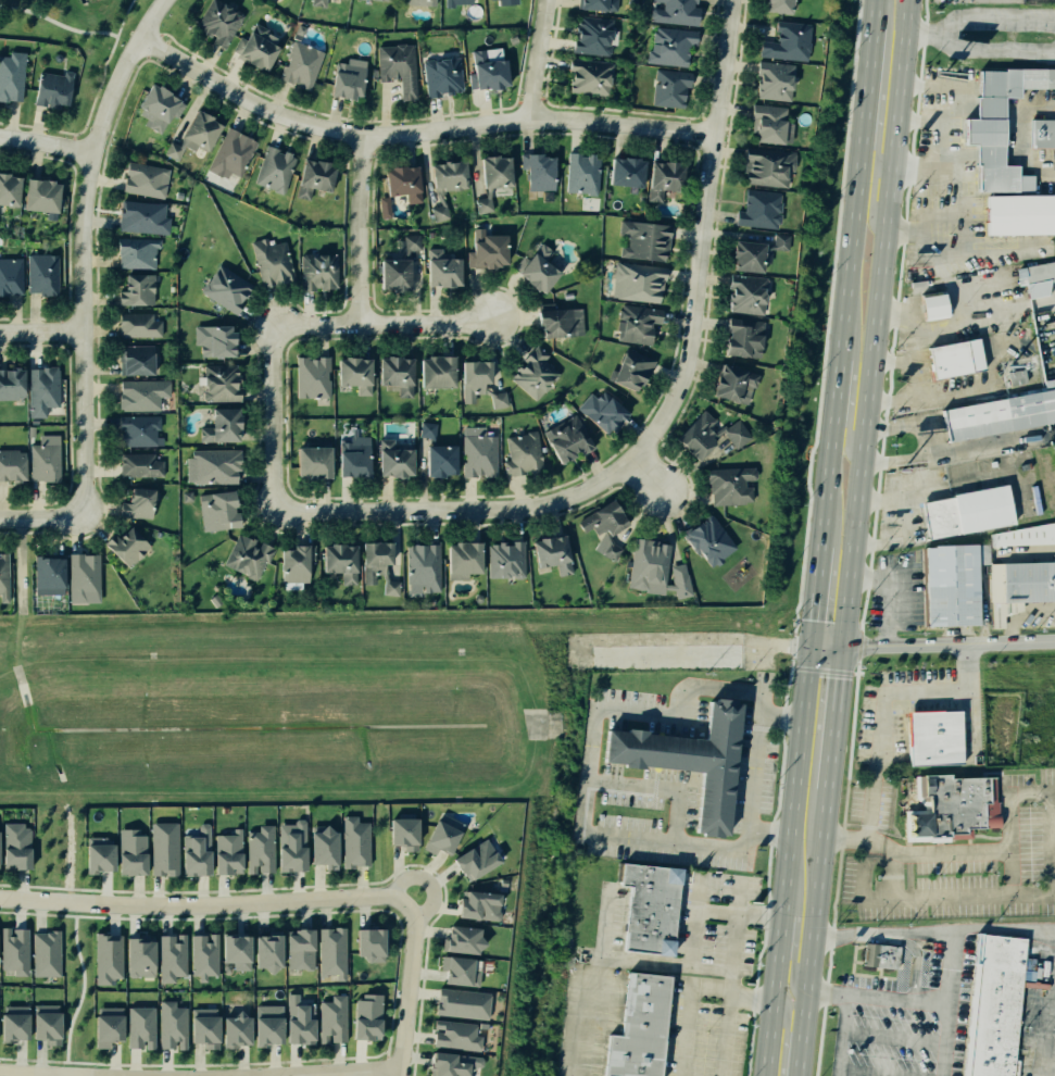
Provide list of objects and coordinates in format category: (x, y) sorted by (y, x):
building: (386, 0)
building: (418, 0)
building: (318, 1)
building: (452, 2)
building: (510, 2)
building: (586, 3)
building: (774, 7)
building: (671, 12)
road: (979, 20)
building: (213, 22)
road: (55, 23)
building: (589, 34)
building: (783, 39)
park: (77, 40)
building: (670, 45)
building: (254, 47)
road: (994, 53)
road: (529, 59)
building: (394, 65)
building: (298, 66)
building: (483, 72)
road: (100, 74)
building: (582, 74)
building: (440, 75)
building: (10, 76)
building: (343, 77)
building: (774, 82)
road: (916, 83)
building: (50, 86)
building: (668, 88)
building: (156, 105)
road: (918, 121)
building: (994, 122)
building: (766, 123)
road: (414, 127)
building: (1040, 132)
building: (192, 133)
road: (940, 133)
road: (45, 143)
building: (230, 155)
building: (763, 164)
road: (884, 164)
building: (624, 167)
building: (536, 170)
building: (581, 171)
road: (876, 171)
building: (272, 172)
building: (313, 176)
building: (485, 178)
building: (142, 180)
building: (662, 180)
building: (441, 183)
building: (398, 185)
road: (705, 187)
building: (7, 190)
building: (37, 195)
building: (762, 203)
building: (440, 213)
building: (1016, 215)
building: (139, 217)
road: (359, 228)
building: (644, 241)
building: (411, 242)
building: (483, 245)
building: (743, 247)
road: (78, 249)
building: (133, 251)
building: (268, 260)
building: (317, 268)
building: (437, 268)
building: (39, 272)
building: (533, 273)
building: (392, 274)
building: (9, 276)
building: (1038, 279)
building: (636, 281)
building: (219, 285)
building: (131, 289)
building: (746, 296)
building: (929, 308)
road: (842, 322)
road: (382, 323)
building: (637, 323)
road: (876, 323)
building: (135, 324)
building: (558, 325)
road: (39, 331)
building: (211, 339)
building: (739, 339)
building: (1043, 345)
building: (134, 358)
building: (951, 360)
building: (630, 365)
building: (434, 371)
building: (350, 373)
building: (392, 374)
building: (537, 374)
building: (312, 378)
building: (472, 378)
building: (9, 383)
building: (216, 383)
building: (734, 384)
building: (41, 388)
building: (139, 393)
building: (495, 399)
building: (603, 412)
road: (277, 416)
building: (997, 416)
building: (219, 423)
road: (849, 426)
building: (135, 429)
building: (701, 434)
building: (563, 438)
road: (924, 443)
road: (983, 445)
building: (476, 451)
building: (435, 452)
building: (520, 452)
building: (350, 456)
building: (392, 456)
building: (42, 458)
building: (309, 461)
building: (11, 462)
building: (138, 464)
building: (205, 465)
road: (643, 478)
building: (726, 485)
building: (135, 503)
road: (511, 509)
building: (217, 510)
building: (964, 512)
road: (40, 518)
building: (606, 521)
road: (906, 523)
building: (1022, 536)
building: (707, 537)
building: (125, 546)
building: (547, 553)
building: (460, 556)
building: (244, 558)
building: (372, 558)
building: (502, 560)
building: (340, 561)
building: (290, 563)
building: (649, 564)
building: (419, 570)
building: (45, 575)
building: (3, 576)
building: (80, 576)
building: (1025, 580)
building: (680, 584)
building: (944, 584)
building: (389, 588)
road: (895, 588)
road: (1019, 614)
road: (931, 643)
traffic signals: (809, 646)
traffic signals: (842, 647)
building: (665, 655)
road: (881, 723)
building: (930, 736)
building: (690, 760)
road: (662, 787)
building: (947, 805)
road: (580, 809)
building: (404, 831)
building: (441, 836)
road: (767, 836)
building: (354, 841)
building: (20, 846)
building: (291, 846)
building: (324, 848)
building: (126, 849)
building: (161, 849)
building: (259, 851)
building: (196, 852)
building: (228, 852)
road: (938, 852)
building: (93, 855)
building: (480, 859)
road: (786, 860)
road: (819, 861)
road: (1053, 872)
road: (428, 879)
road: (208, 903)
building: (482, 904)
building: (648, 909)
road: (695, 931)
road: (1004, 931)
road: (882, 933)
building: (463, 938)
building: (365, 943)
building: (303, 948)
building: (13, 950)
building: (235, 951)
building: (46, 953)
building: (267, 953)
building: (334, 953)
building: (877, 955)
building: (202, 956)
road: (791, 956)
building: (105, 958)
building: (139, 958)
building: (171, 958)
building: (462, 969)
road: (84, 987)
park: (76, 988)
road: (409, 991)
road: (688, 993)
road: (877, 998)
building: (465, 1003)
road: (947, 1003)
building: (990, 1005)
building: (363, 1015)
building: (334, 1019)
building: (298, 1021)
building: (266, 1024)
road: (579, 1024)
building: (13, 1026)
building: (172, 1026)
parking lot: (896, 1026)
building: (46, 1027)
building: (140, 1027)
building: (633, 1027)
building: (105, 1028)
building: (204, 1029)
building: (234, 1031)
road: (784, 1031)
road: (837, 1035)
building: (459, 1036)
road: (724, 1036)
building: (456, 1064)
road: (338, 1071)
road: (70, 1074)

